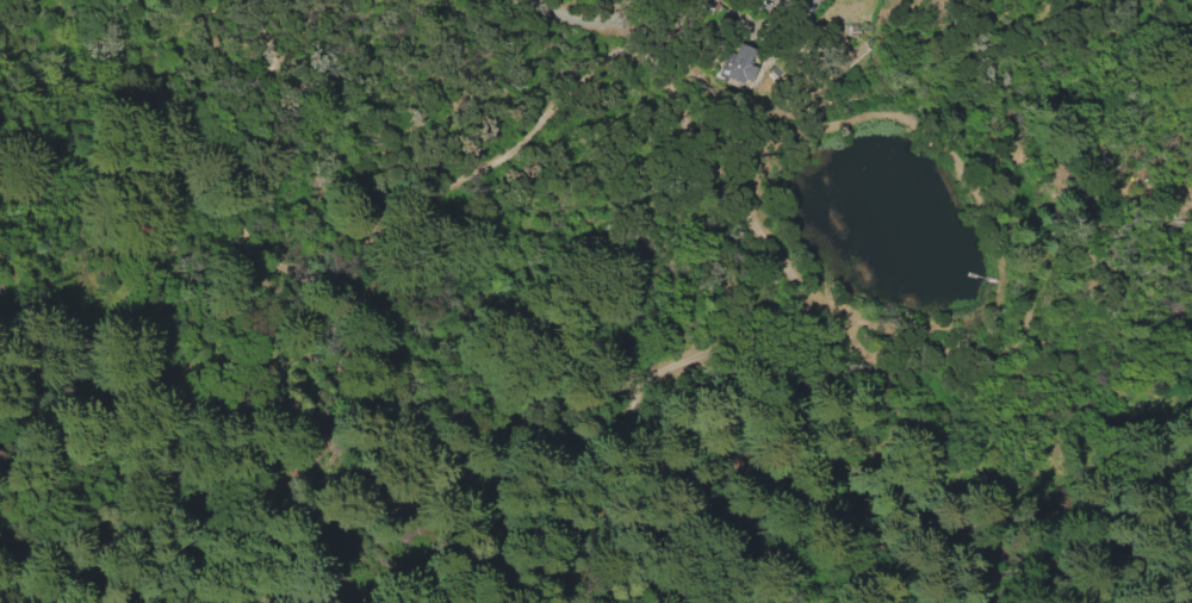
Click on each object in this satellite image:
building: (740, 62)
road: (1070, 128)

